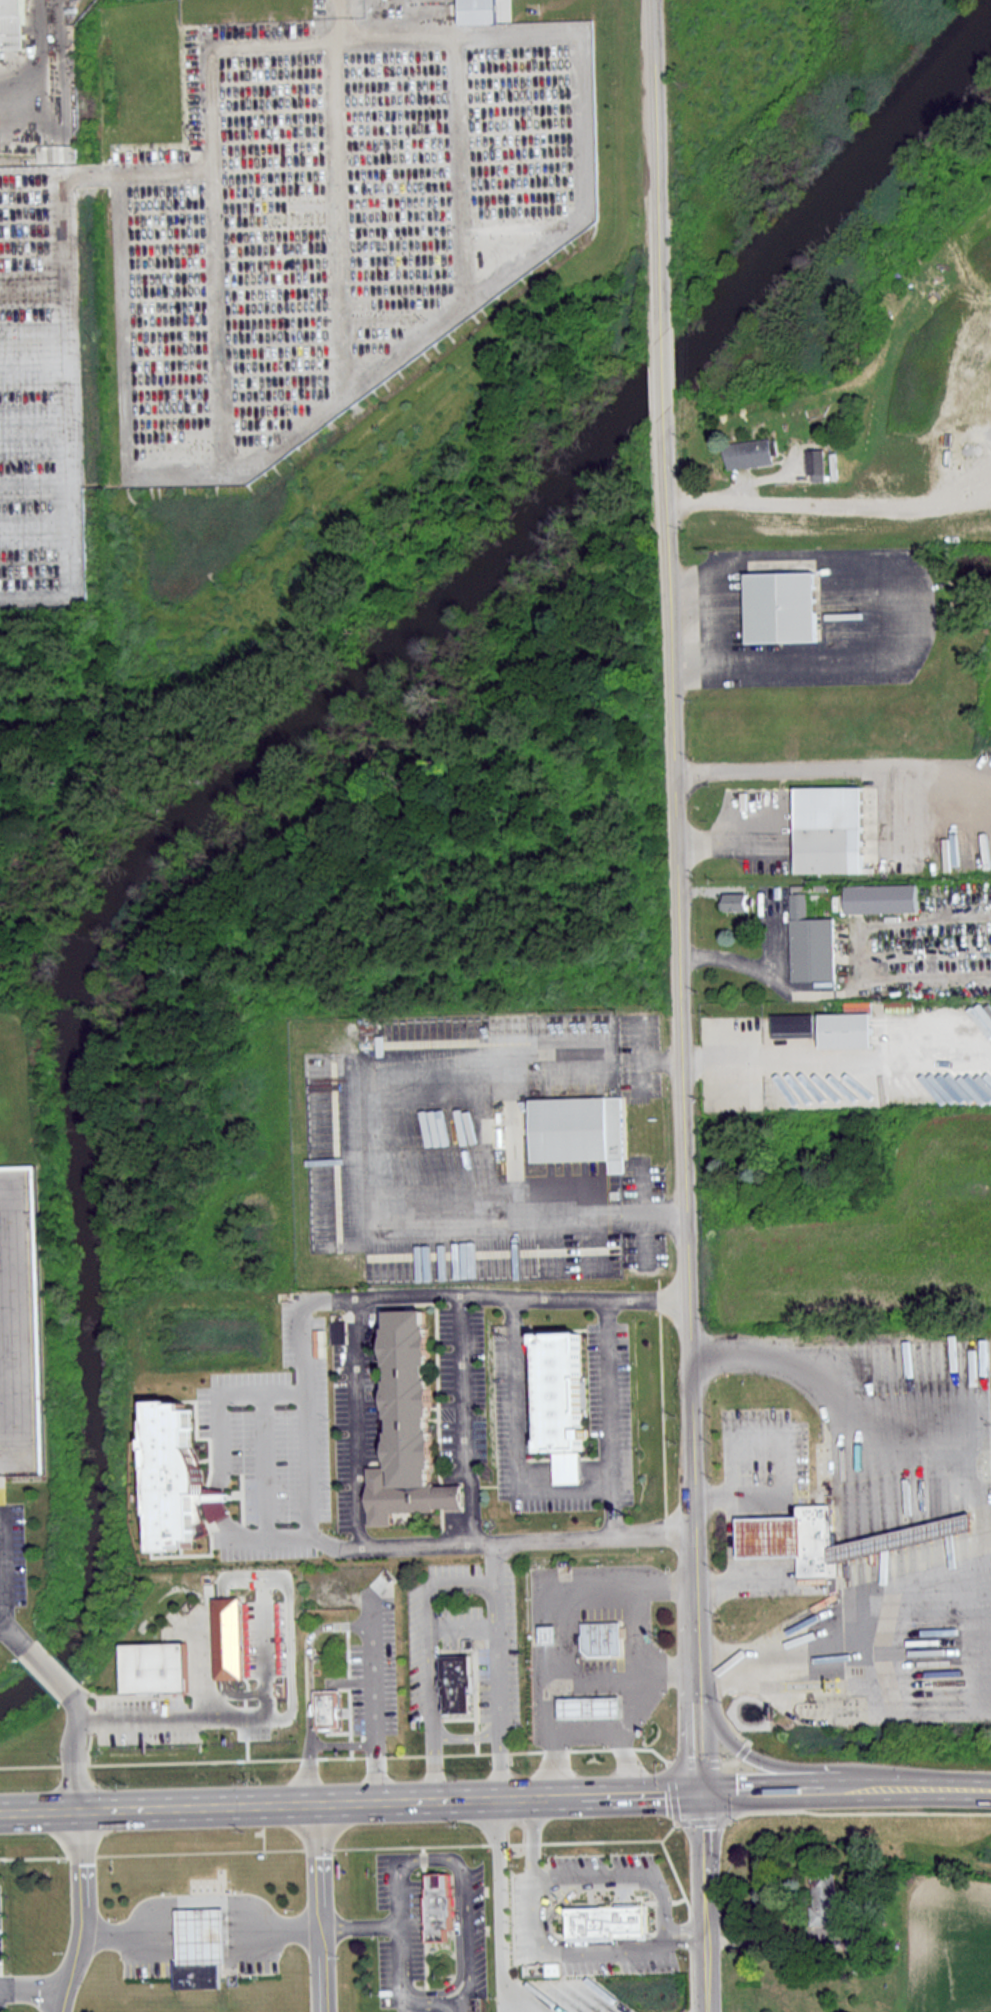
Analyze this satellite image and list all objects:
building: (478, 11)
building: (14, 25)
road: (657, 167)
parking lot: (332, 222)
parking lot: (40, 309)
road: (663, 374)
building: (752, 453)
building: (816, 465)
road: (731, 491)
building: (776, 606)
road: (792, 769)
building: (829, 829)
road: (722, 842)
building: (880, 897)
building: (735, 901)
building: (809, 942)
building: (795, 1025)
building: (848, 1030)
road: (681, 1050)
road: (831, 1057)
road: (659, 1059)
road: (723, 1059)
building: (583, 1130)
road: (364, 1183)
road: (306, 1320)
building: (21, 1326)
road: (292, 1389)
road: (609, 1394)
building: (563, 1402)
road: (356, 1422)
building: (408, 1425)
road: (787, 1458)
road: (517, 1464)
building: (173, 1478)
road: (224, 1503)
road: (982, 1510)
gas station: (788, 1536)
road: (289, 1539)
road: (2, 1564)
road: (779, 1588)
road: (496, 1630)
road: (566, 1632)
road: (13, 1635)
building: (537, 1640)
building: (592, 1643)
road: (429, 1660)
gas station: (578, 1660)
building: (159, 1666)
road: (48, 1670)
building: (453, 1681)
road: (308, 1683)
road: (538, 1695)
road: (374, 1698)
road: (627, 1702)
building: (329, 1707)
building: (579, 1712)
road: (234, 1716)
road: (590, 1732)
road: (465, 1736)
road: (701, 1738)
road: (342, 1742)
road: (72, 1749)
road: (500, 1757)
road: (790, 1766)
road: (954, 1787)
road: (810, 1788)
traffic signals: (703, 1791)
road: (510, 1796)
road: (159, 1806)
road: (532, 1877)
flagpole: (406, 1882)
road: (200, 1898)
road: (705, 1901)
road: (500, 1905)
road: (466, 1906)
road: (321, 1907)
building: (428, 1910)
road: (84, 1912)
building: (592, 1926)
road: (360, 1927)
road: (677, 1934)
building: (201, 1935)
gas station: (201, 1935)
road: (765, 1940)
crop: (949, 1946)
road: (601, 1952)
road: (399, 1957)
building: (184, 1978)
road: (31, 1990)

